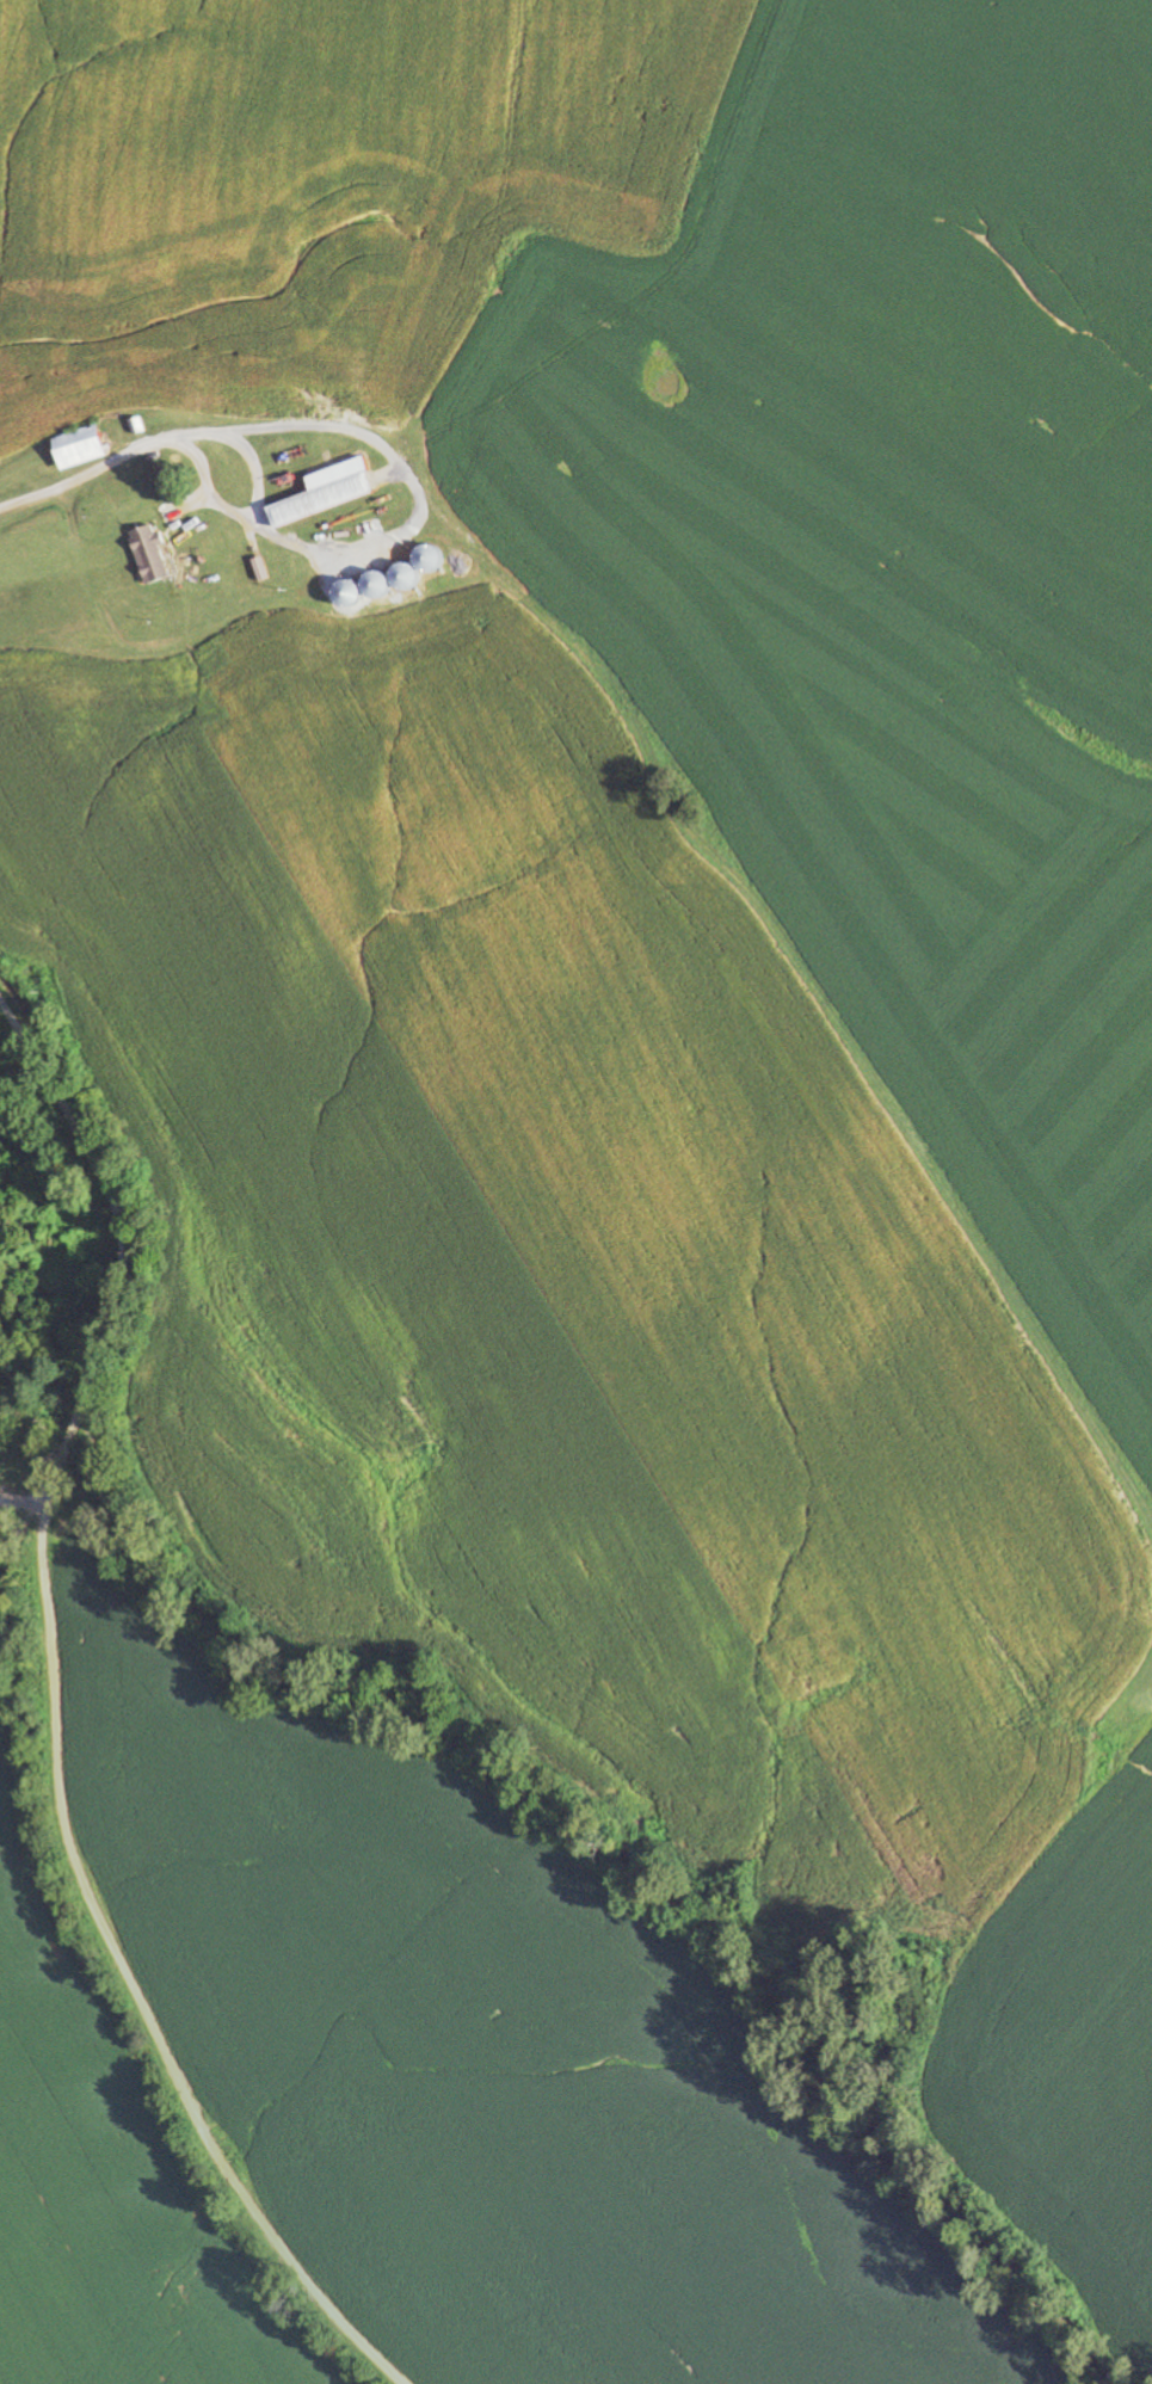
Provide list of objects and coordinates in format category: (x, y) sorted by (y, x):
building: (84, 448)
road: (24, 463)
building: (331, 493)
building: (154, 555)
road: (60, 1715)

